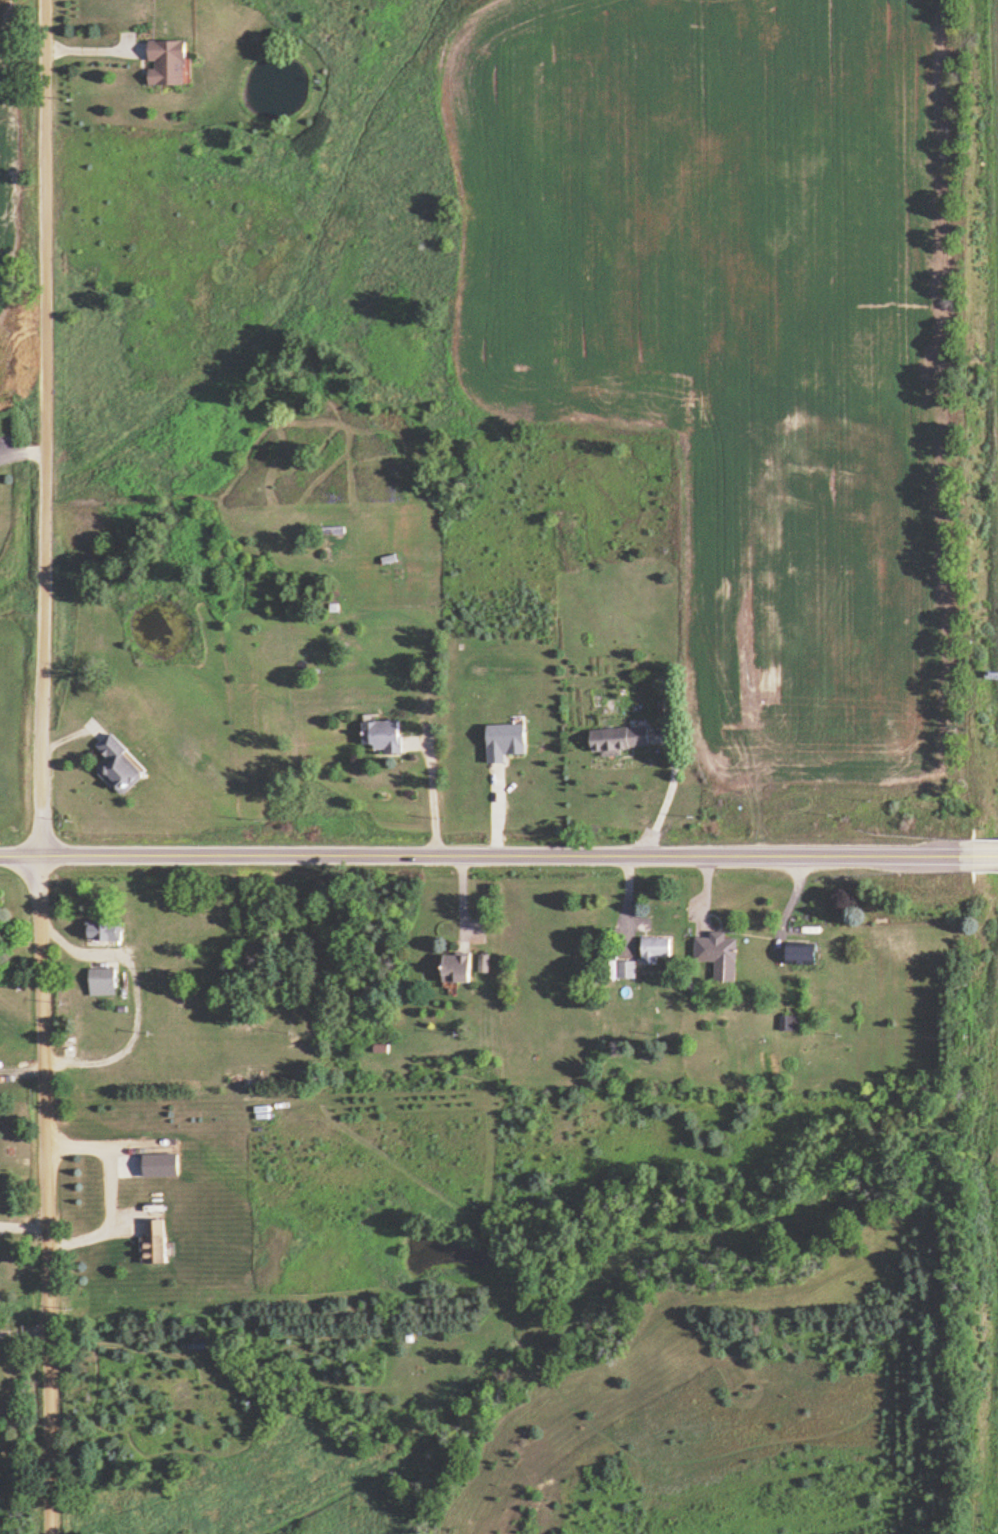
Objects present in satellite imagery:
building: (169, 61)
road: (19, 450)
crop: (18, 728)
building: (383, 736)
building: (620, 739)
building: (505, 741)
building: (123, 766)
road: (37, 767)
road: (430, 796)
road: (666, 797)
road: (18, 856)
road: (505, 856)
road: (986, 856)
building: (105, 929)
building: (655, 949)
building: (804, 953)
building: (718, 956)
building: (484, 962)
building: (458, 967)
building: (626, 969)
building: (103, 981)
road: (136, 995)
building: (787, 1023)
road: (117, 1192)
building: (155, 1238)
road: (23, 1328)

